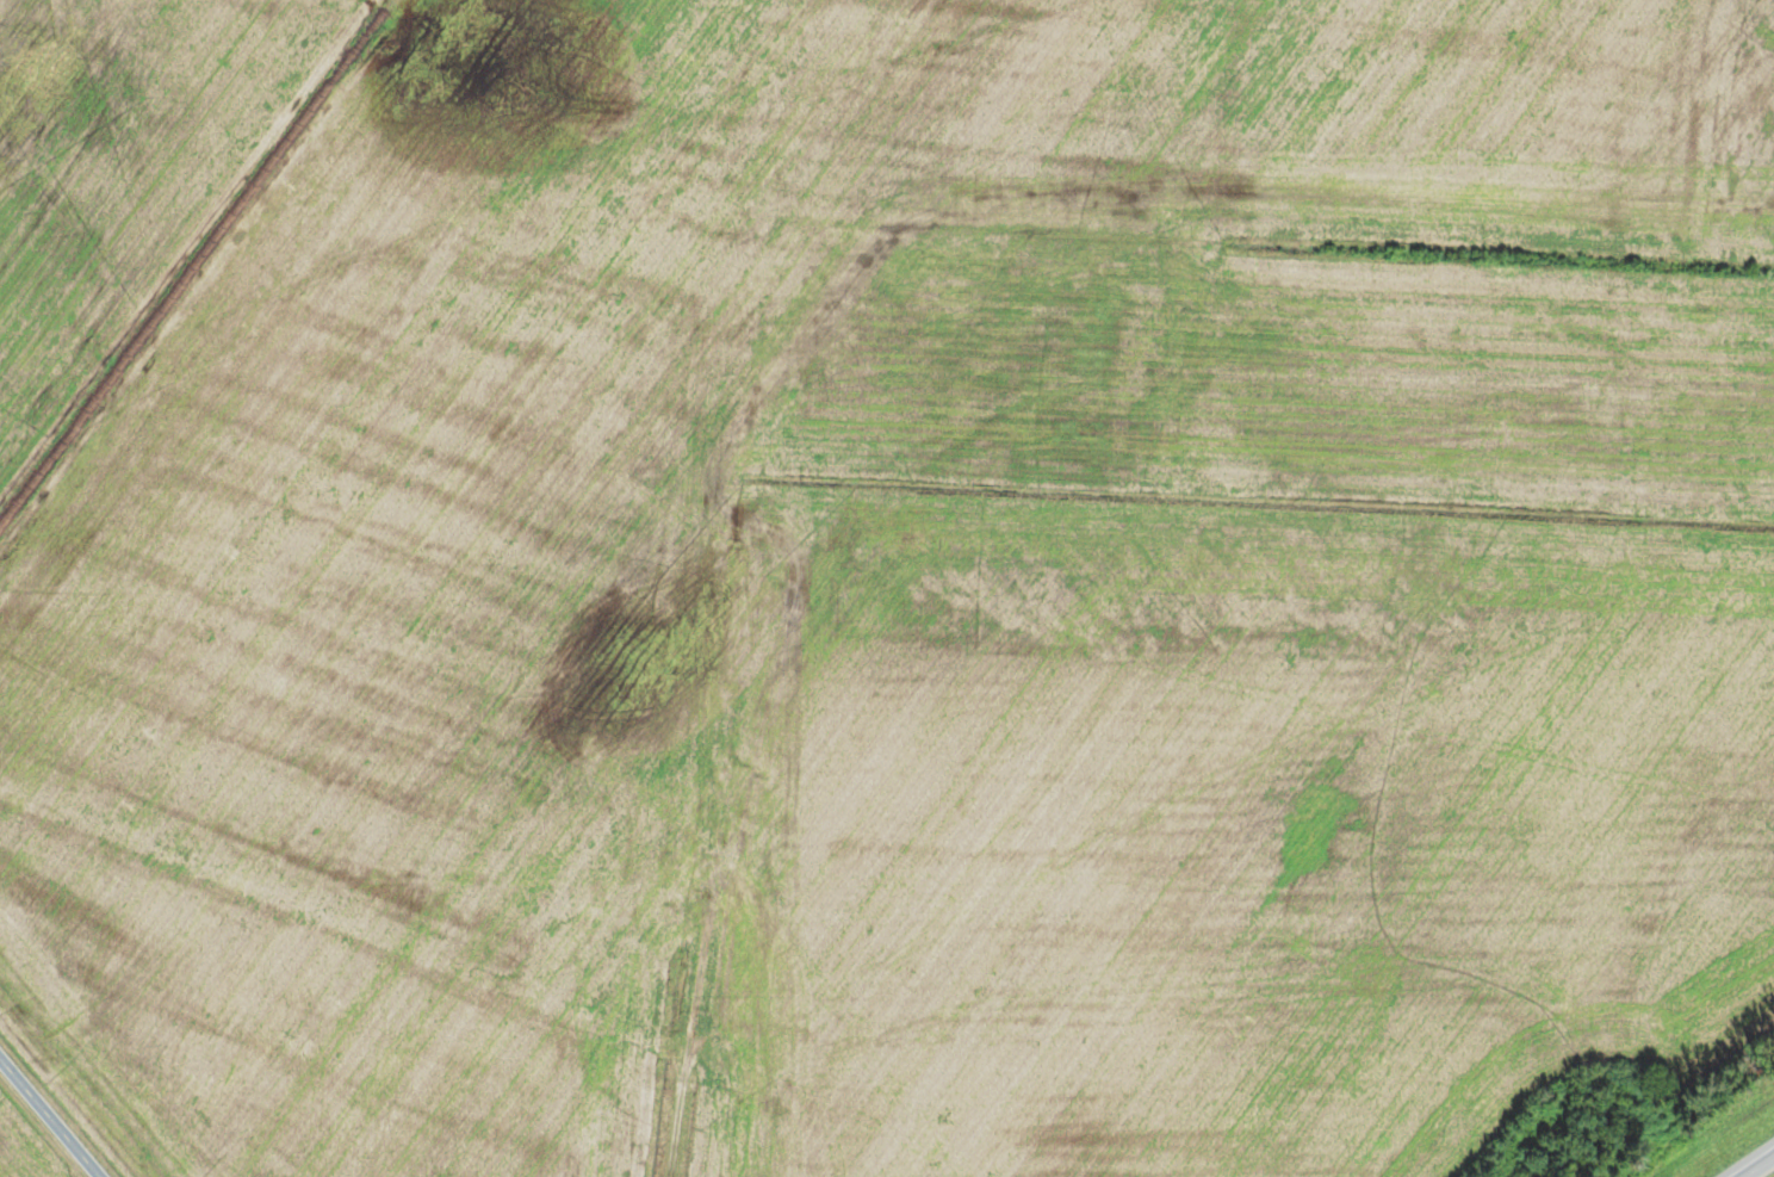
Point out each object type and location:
road: (211, 271)
road: (268, 878)
road: (50, 1117)
road: (1761, 1167)

